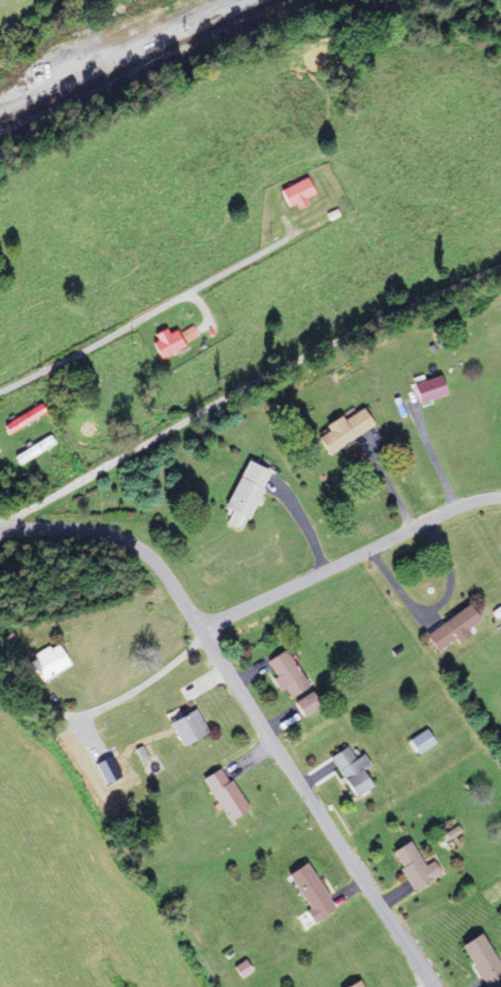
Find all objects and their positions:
railway: (132, 52)
building: (294, 194)
road: (143, 314)
building: (163, 345)
road: (246, 388)
building: (425, 391)
building: (21, 420)
building: (340, 431)
building: (32, 451)
building: (243, 491)
road: (348, 558)
building: (449, 629)
building: (43, 665)
building: (282, 674)
building: (303, 705)
road: (249, 706)
building: (184, 727)
building: (419, 743)
building: (348, 771)
building: (221, 794)
building: (411, 867)
building: (307, 893)
building: (477, 956)
building: (353, 984)

